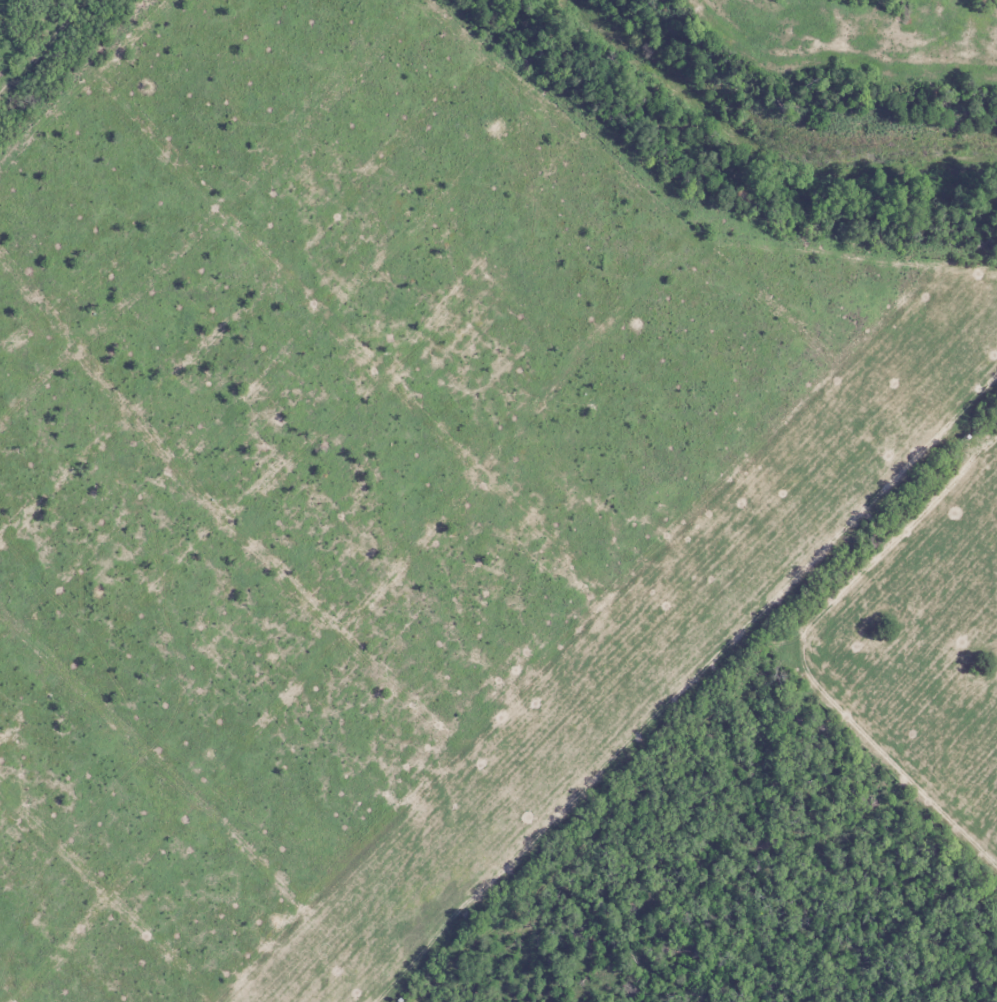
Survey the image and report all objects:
river: (762, 144)

